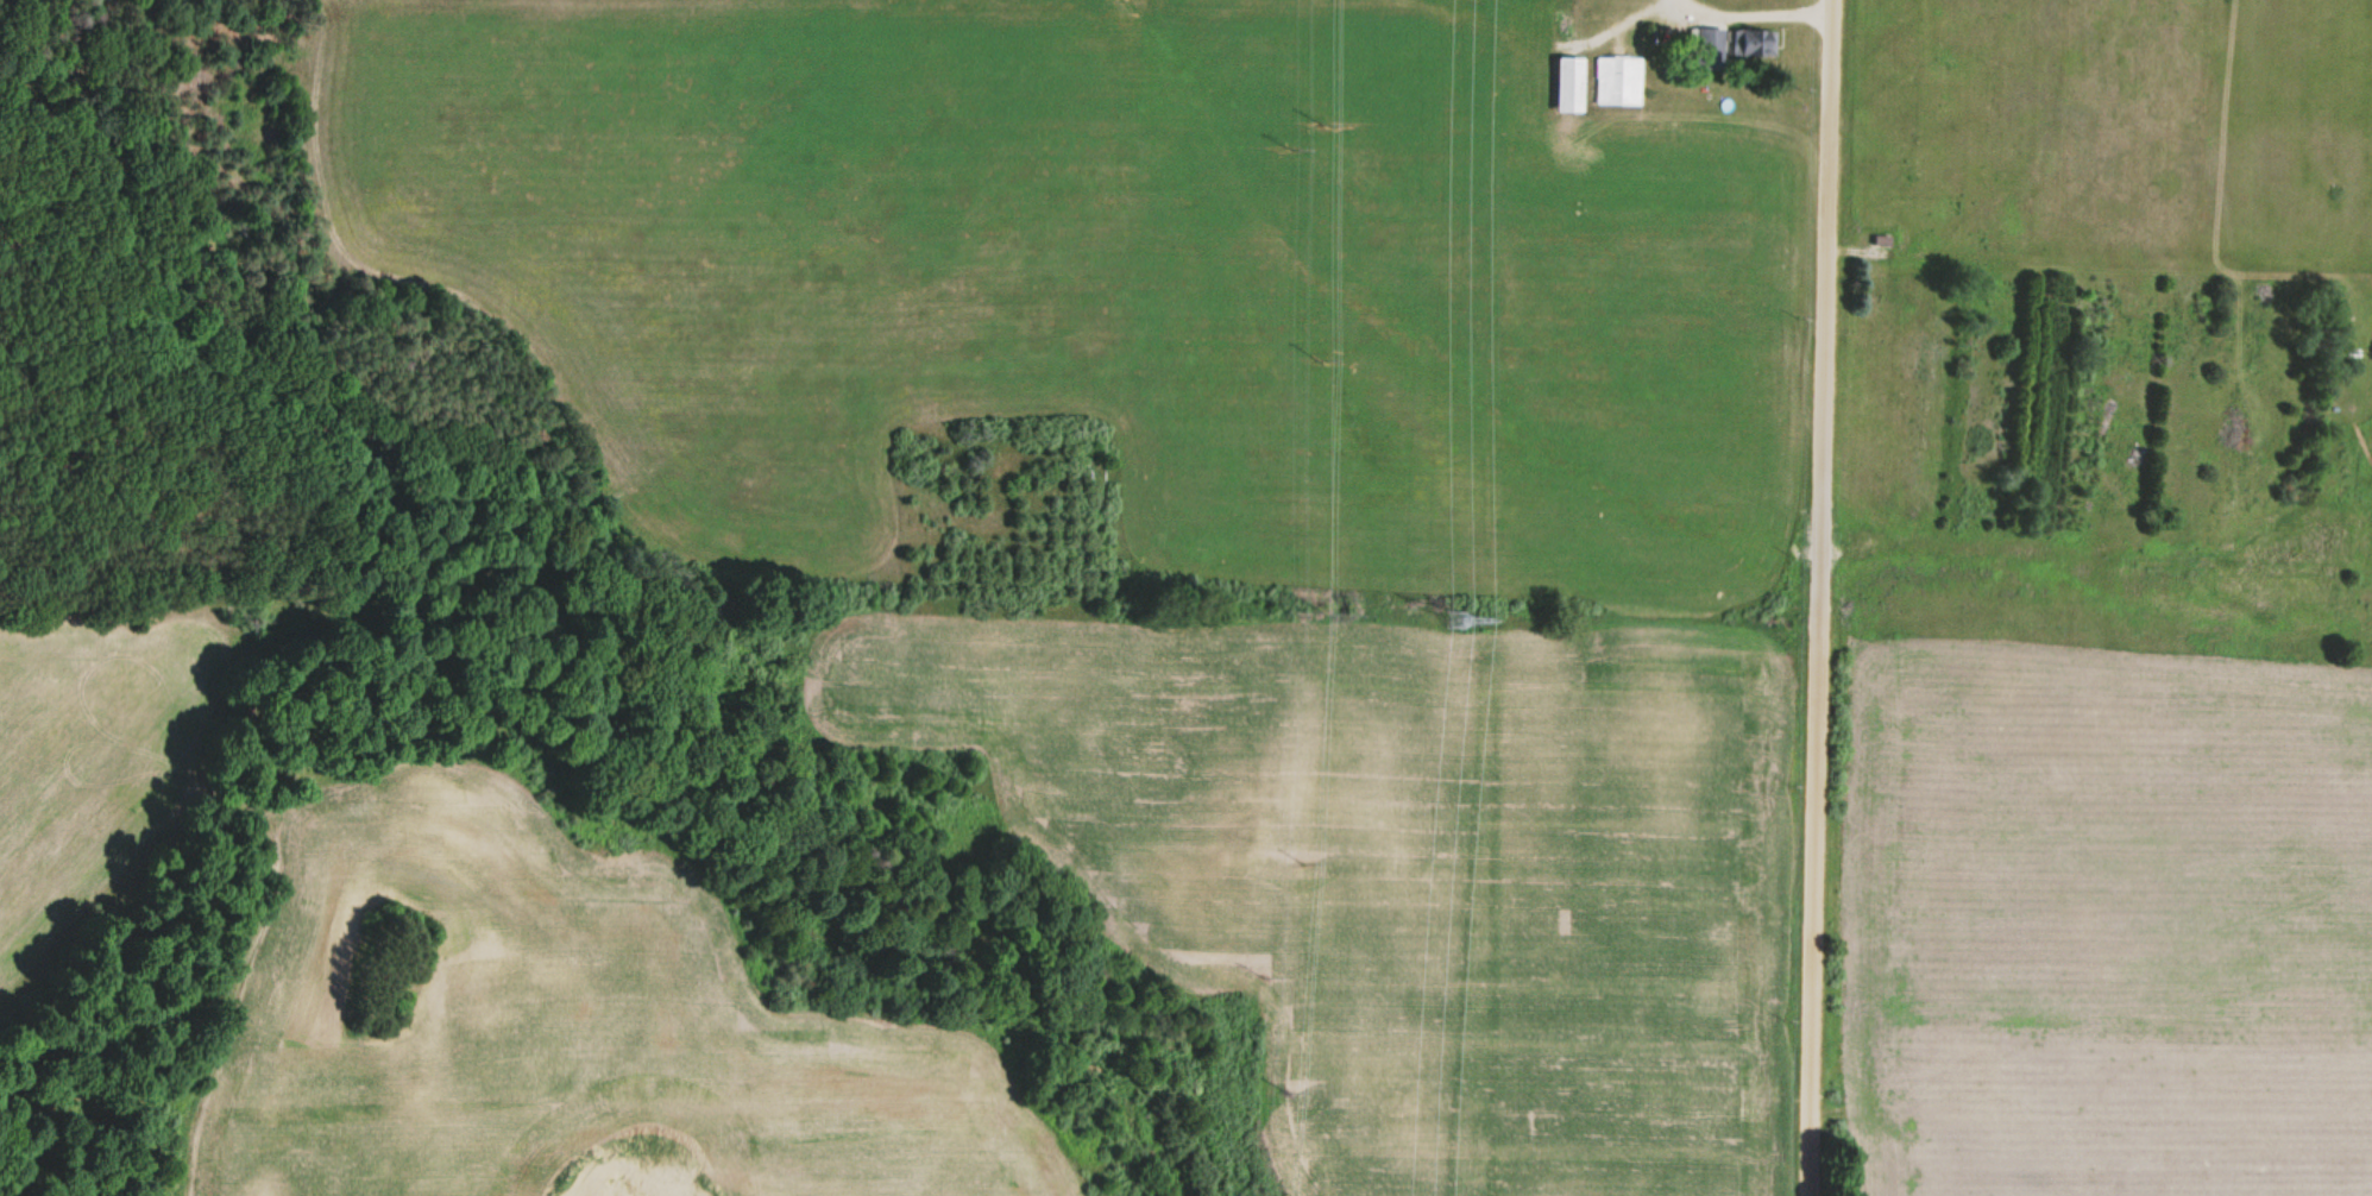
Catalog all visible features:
building: (1617, 81)
building: (1571, 83)
road: (1816, 598)
power tower: (1454, 610)

